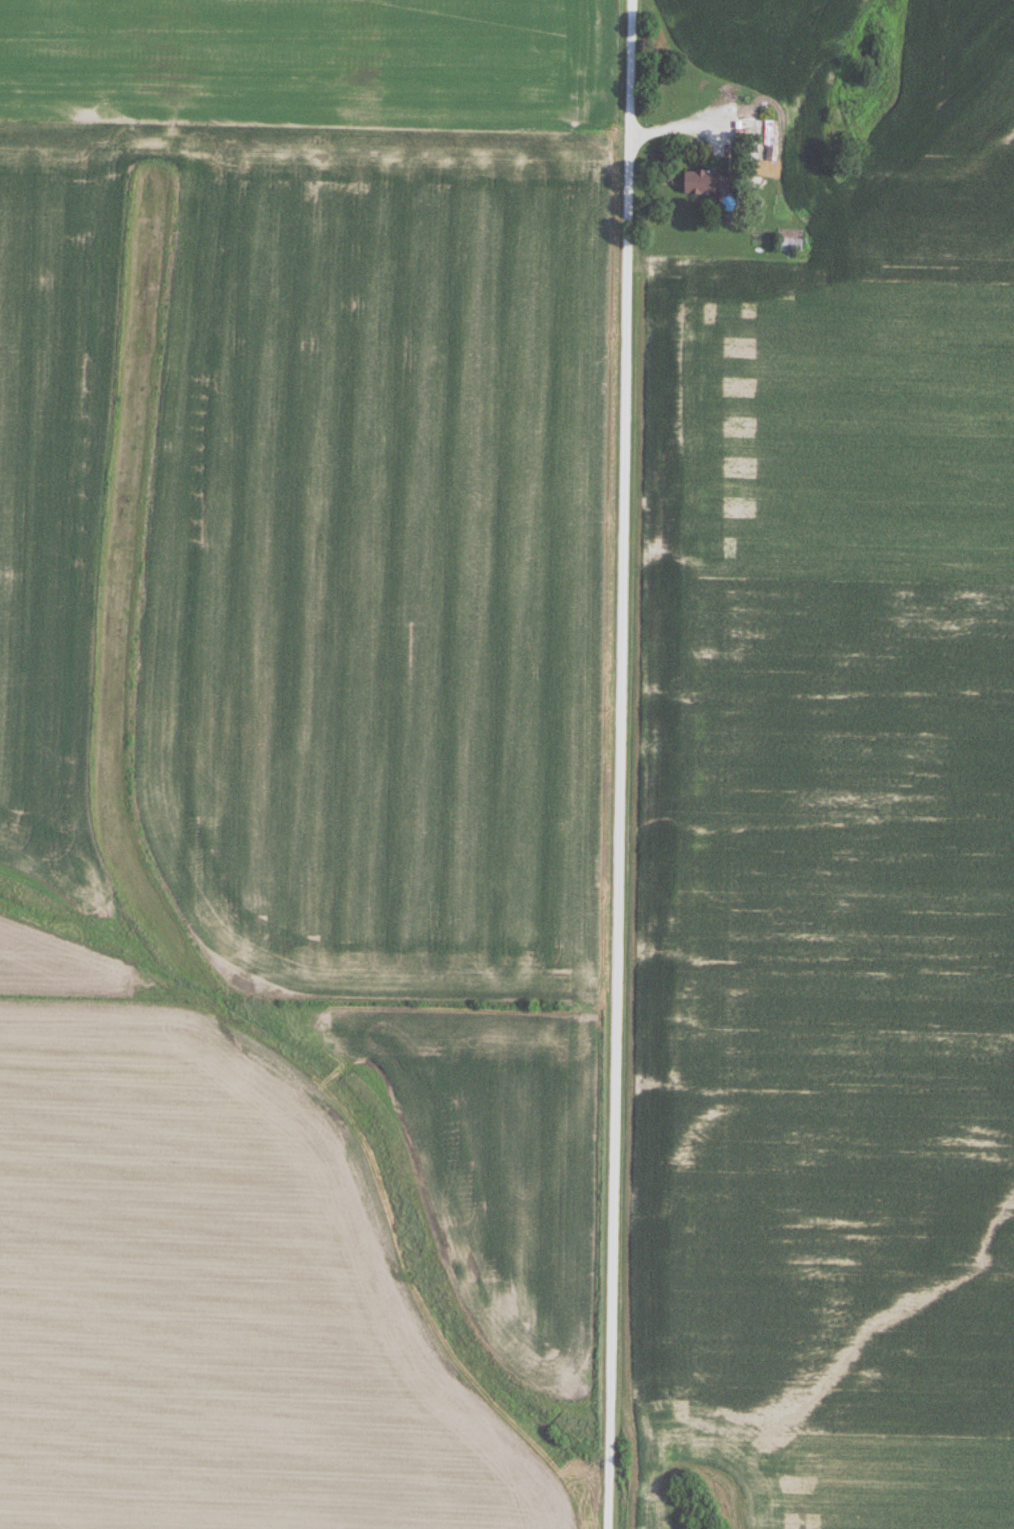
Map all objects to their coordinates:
building: (702, 179)
building: (790, 242)
road: (620, 764)

